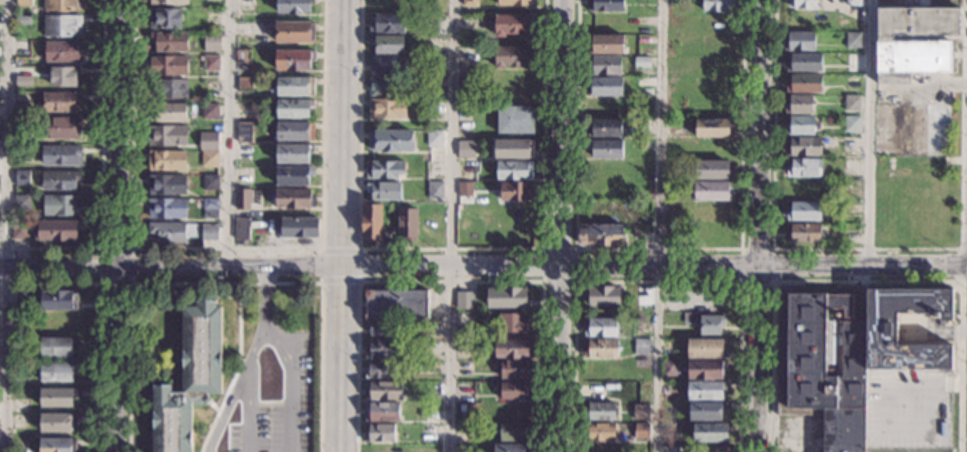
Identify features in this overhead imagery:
building: (169, 2)
building: (24, 3)
building: (469, 3)
building: (516, 3)
building: (853, 3)
building: (802, 4)
building: (63, 5)
building: (717, 5)
building: (605, 6)
building: (294, 7)
building: (165, 19)
building: (23, 21)
building: (470, 22)
building: (917, 22)
building: (387, 24)
building: (512, 24)
building: (63, 26)
building: (295, 32)
building: (853, 40)
building: (169, 41)
building: (212, 42)
building: (800, 42)
building: (607, 44)
building: (387, 45)
building: (22, 46)
building: (62, 52)
building: (242, 56)
building: (512, 56)
building: (293, 60)
building: (911, 60)
building: (641, 62)
building: (804, 62)
building: (211, 63)
building: (386, 65)
building: (604, 65)
building: (168, 66)
building: (66, 77)
building: (804, 83)
building: (244, 84)
building: (295, 87)
building: (385, 87)
building: (606, 87)
building: (168, 89)
building: (62, 103)
building: (852, 103)
building: (799, 104)
building: (433, 107)
building: (294, 108)
building: (387, 109)
building: (243, 110)
building: (210, 111)
building: (167, 113)
building: (515, 120)
building: (23, 123)
building: (852, 124)
building: (800, 125)
building: (605, 127)
building: (62, 128)
building: (673, 128)
building: (712, 128)
road: (226, 132)
building: (244, 132)
building: (295, 132)
road: (869, 132)
building: (167, 135)
building: (435, 139)
building: (390, 141)
building: (210, 143)
building: (804, 147)
building: (466, 148)
building: (514, 149)
building: (607, 149)
building: (23, 150)
building: (294, 153)
building: (61, 155)
building: (209, 158)
building: (166, 160)
building: (804, 168)
building: (385, 169)
building: (513, 170)
building: (713, 170)
road: (100, 172)
building: (295, 176)
building: (22, 178)
building: (60, 180)
building: (210, 183)
building: (167, 185)
building: (435, 190)
building: (464, 190)
building: (384, 191)
building: (515, 191)
building: (713, 191)
building: (242, 199)
building: (294, 199)
building: (21, 202)
building: (211, 204)
building: (60, 205)
building: (167, 209)
building: (804, 211)
building: (371, 222)
building: (407, 224)
road: (340, 225)
road: (660, 225)
road: (6, 226)
road: (119, 226)
road: (452, 226)
road: (562, 226)
road: (759, 226)
building: (299, 228)
building: (241, 229)
building: (20, 230)
building: (58, 230)
building: (167, 232)
building: (209, 232)
building: (804, 233)
building: (600, 234)
road: (100, 247)
road: (226, 248)
road: (339, 248)
road: (449, 249)
road: (574, 249)
road: (658, 249)
road: (772, 249)
road: (868, 251)
road: (358, 264)
road: (319, 265)
road: (483, 266)
road: (960, 268)
road: (449, 280)
road: (338, 281)
road: (657, 281)
road: (225, 282)
road: (865, 282)
road: (218, 294)
road: (265, 296)
building: (602, 297)
building: (507, 298)
building: (23, 299)
building: (58, 300)
building: (464, 302)
building: (396, 303)
road: (100, 317)
building: (466, 320)
building: (57, 322)
building: (512, 323)
building: (711, 324)
building: (381, 328)
building: (600, 328)
building: (57, 347)
building: (642, 347)
building: (706, 348)
building: (382, 349)
building: (513, 349)
building: (601, 349)
building: (847, 353)
building: (669, 368)
building: (379, 369)
building: (705, 369)
road: (235, 370)
building: (514, 370)
building: (57, 372)
building: (189, 378)
road: (952, 381)
road: (290, 385)
road: (247, 387)
building: (383, 390)
building: (514, 391)
building: (704, 391)
building: (57, 397)
road: (225, 409)
building: (640, 411)
building: (706, 411)
building: (383, 412)
building: (600, 412)
road: (888, 421)
building: (57, 422)
building: (641, 431)
building: (513, 432)
building: (599, 432)
building: (380, 433)
building: (711, 433)
building: (19, 445)
building: (58, 445)
building: (511, 448)
building: (713, 448)

